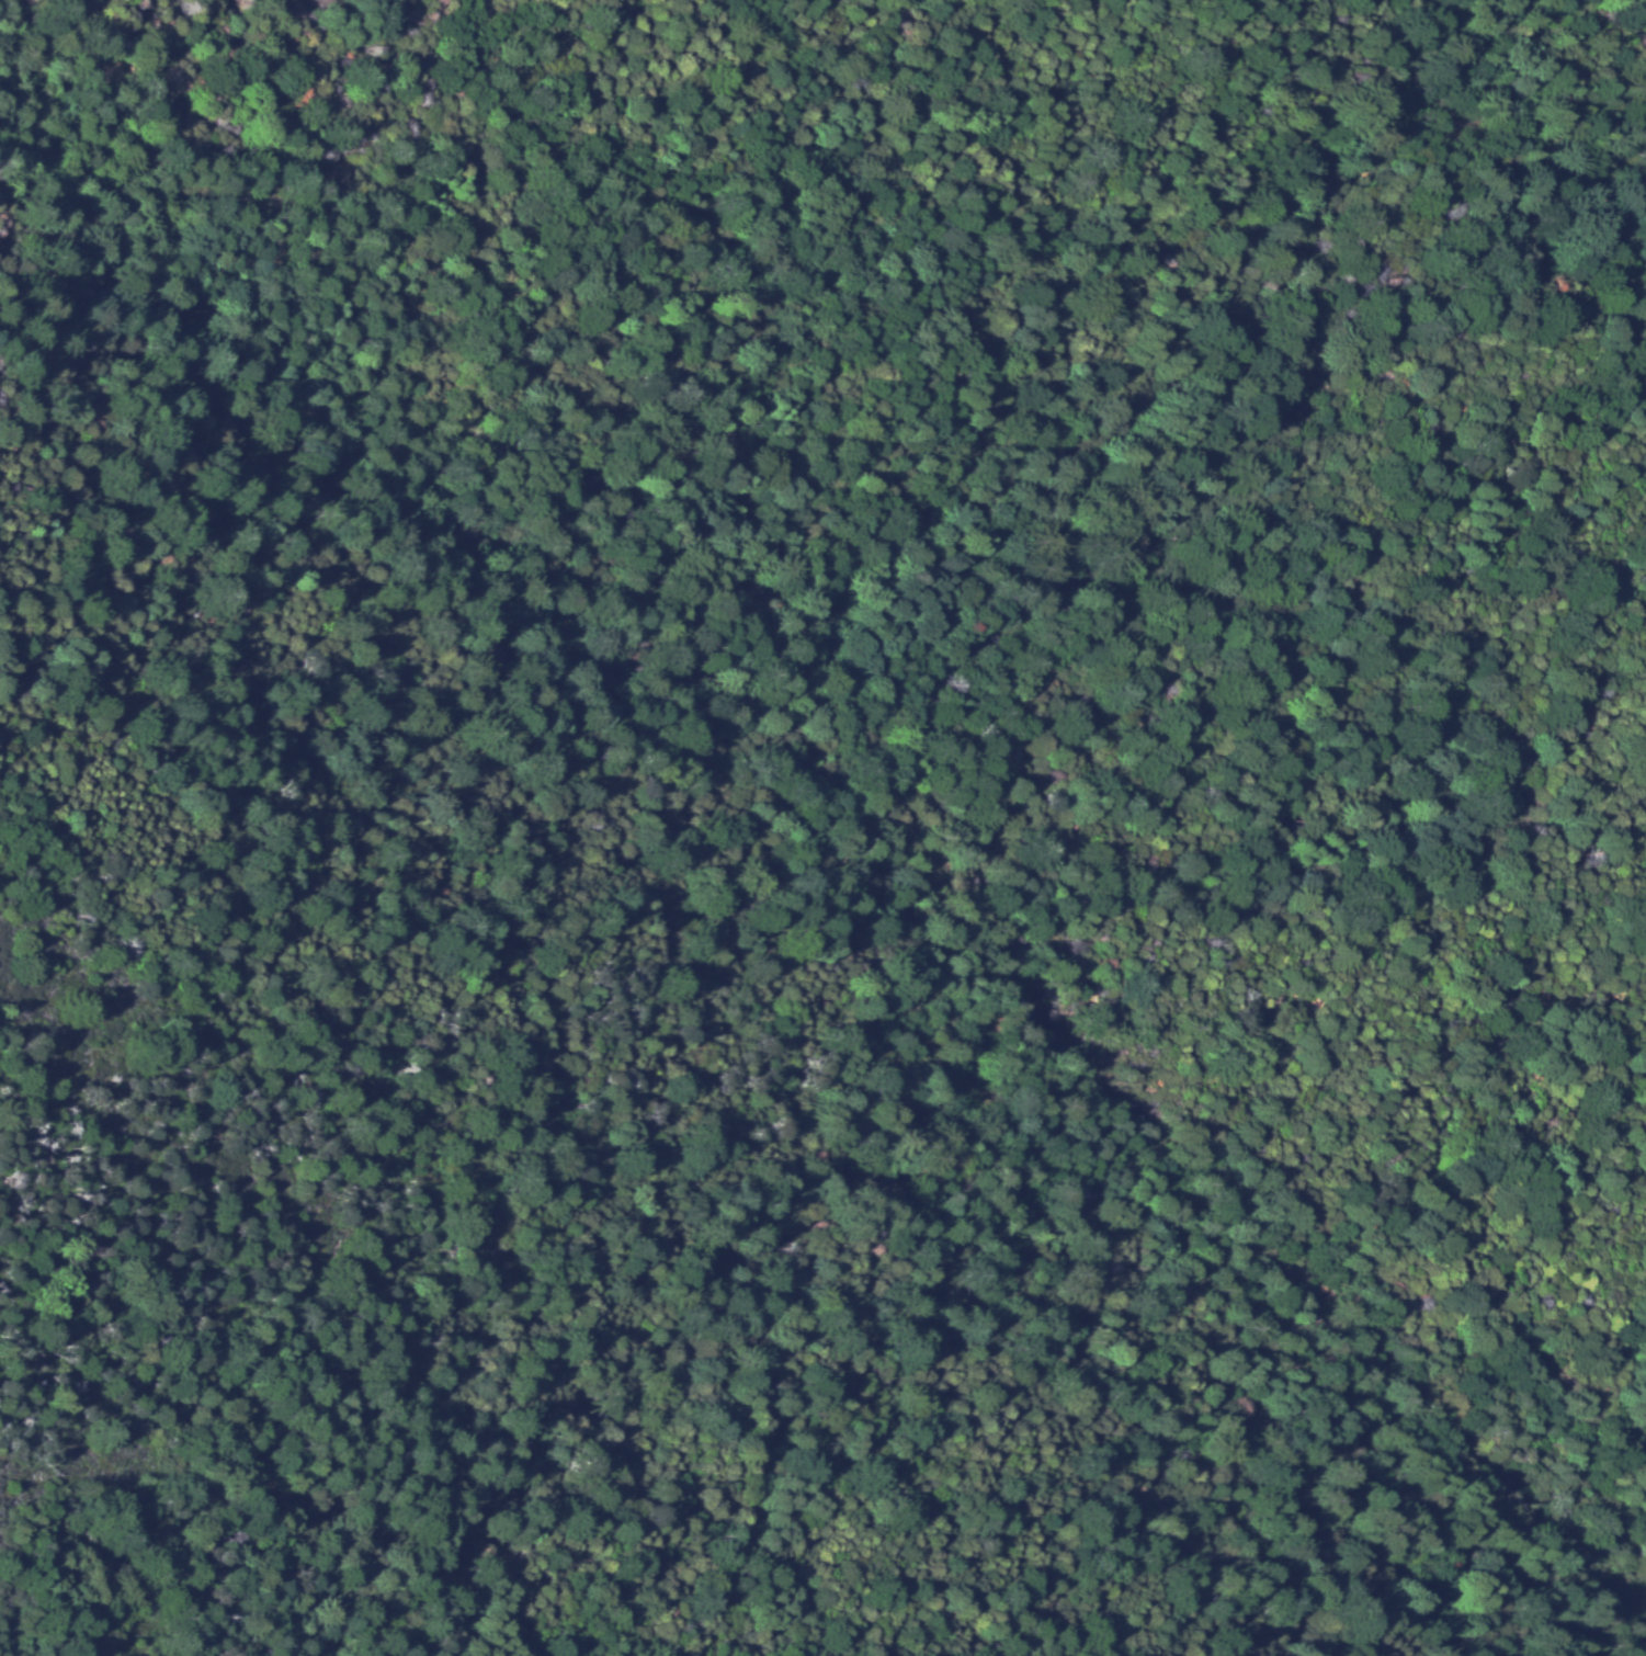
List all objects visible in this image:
road: (1635, 18)
road: (863, 174)
road: (950, 701)

